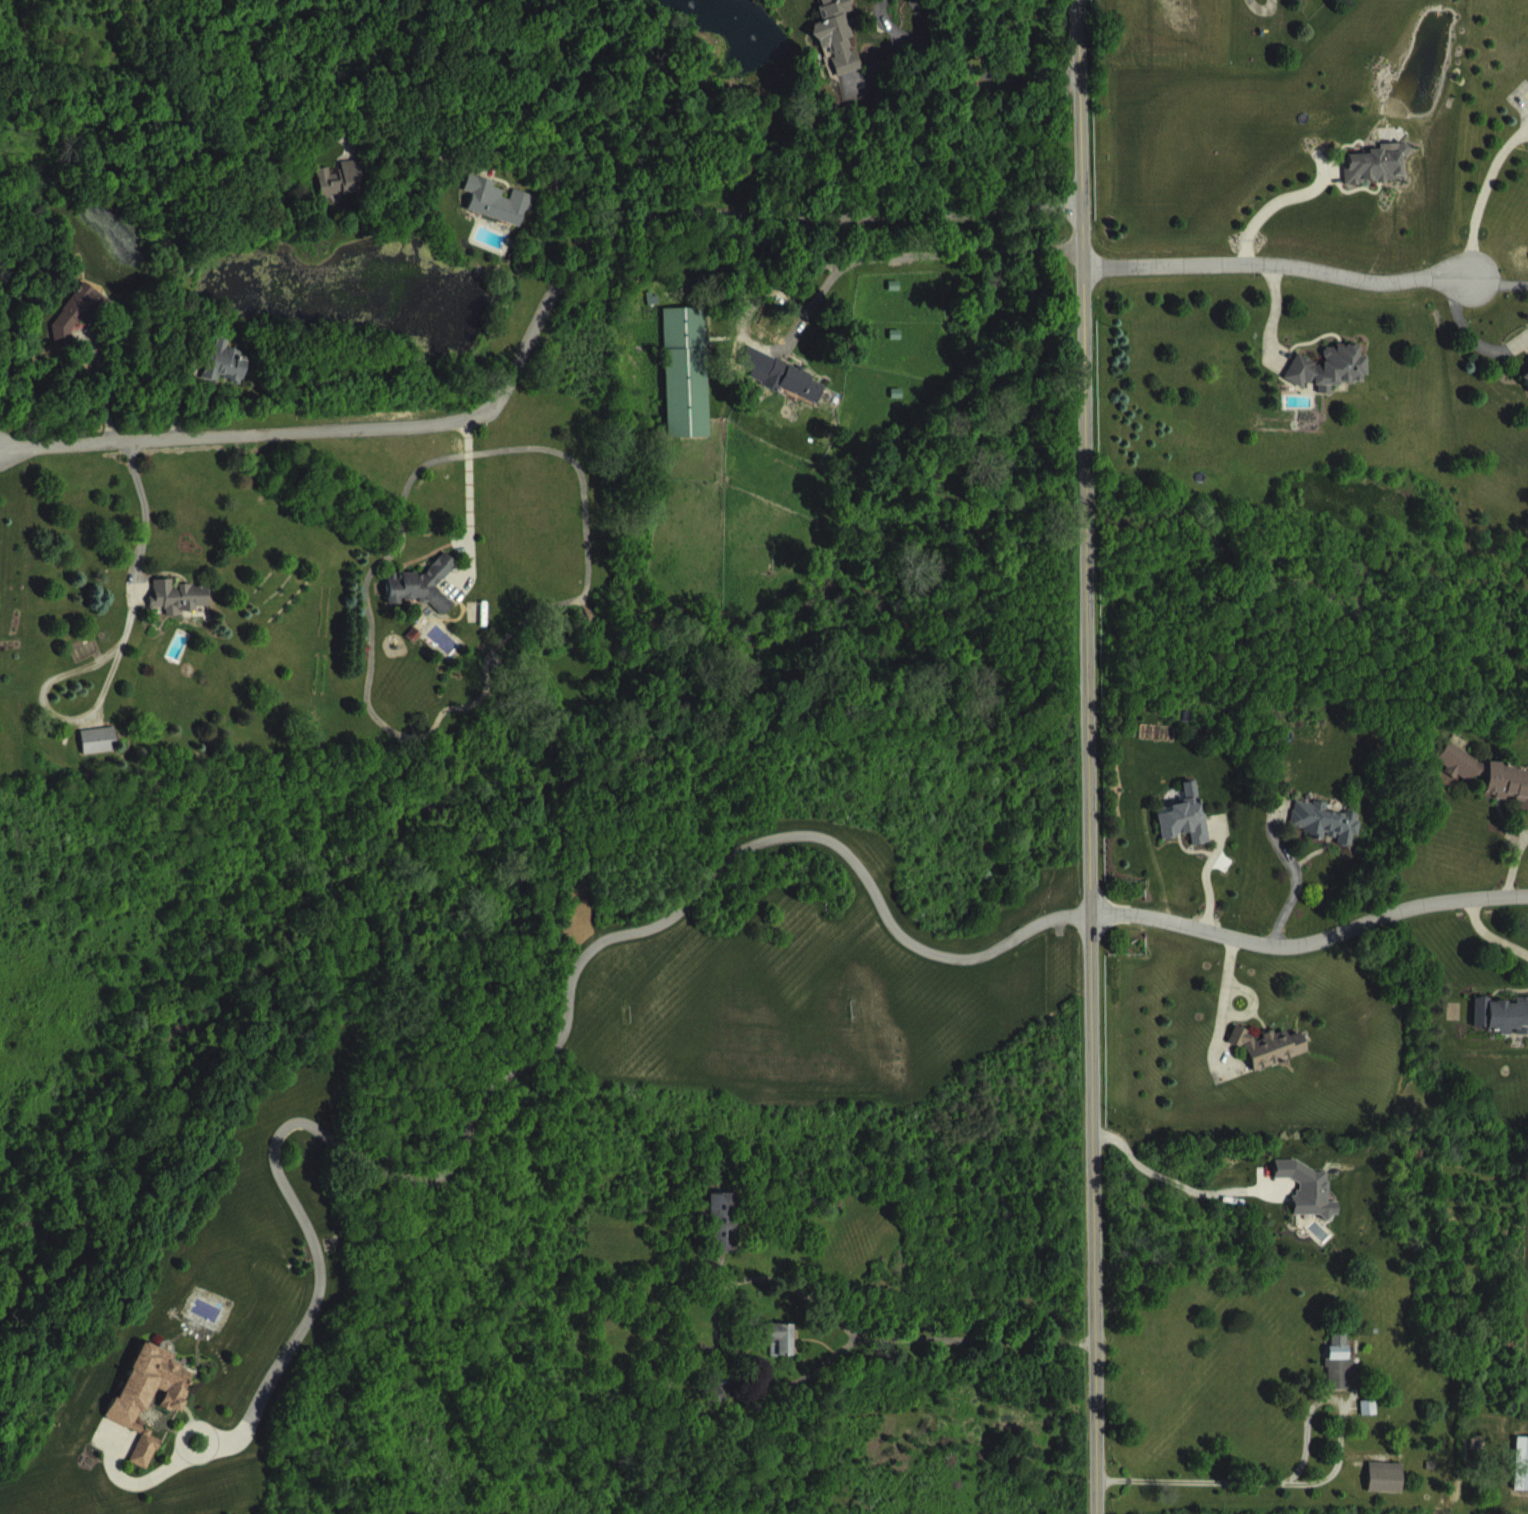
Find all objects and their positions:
road: (969, 66)
road: (502, 112)
building: (1382, 179)
road: (1484, 188)
building: (344, 195)
road: (1272, 201)
building: (500, 216)
road: (820, 262)
road: (1282, 267)
road: (1501, 280)
road: (536, 320)
building: (80, 330)
building: (227, 379)
building: (1333, 383)
road: (100, 385)
building: (690, 388)
building: (1526, 389)
building: (791, 394)
road: (468, 499)
road: (143, 518)
building: (428, 600)
building: (183, 612)
building: (104, 756)
road: (1093, 756)
building: (1466, 778)
building: (1509, 795)
building: (1190, 834)
building: (1330, 837)
road: (1514, 860)
road: (1491, 930)
road: (1314, 939)
building: (1504, 1030)
road: (558, 1037)
building: (1275, 1062)
road: (1178, 1184)
building: (1313, 1204)
building: (727, 1237)
road: (899, 1336)
building: (784, 1354)
building: (1344, 1375)
building: (156, 1410)
building: (1374, 1422)
road: (1252, 1480)
building: (1524, 1480)
building: (1390, 1492)

